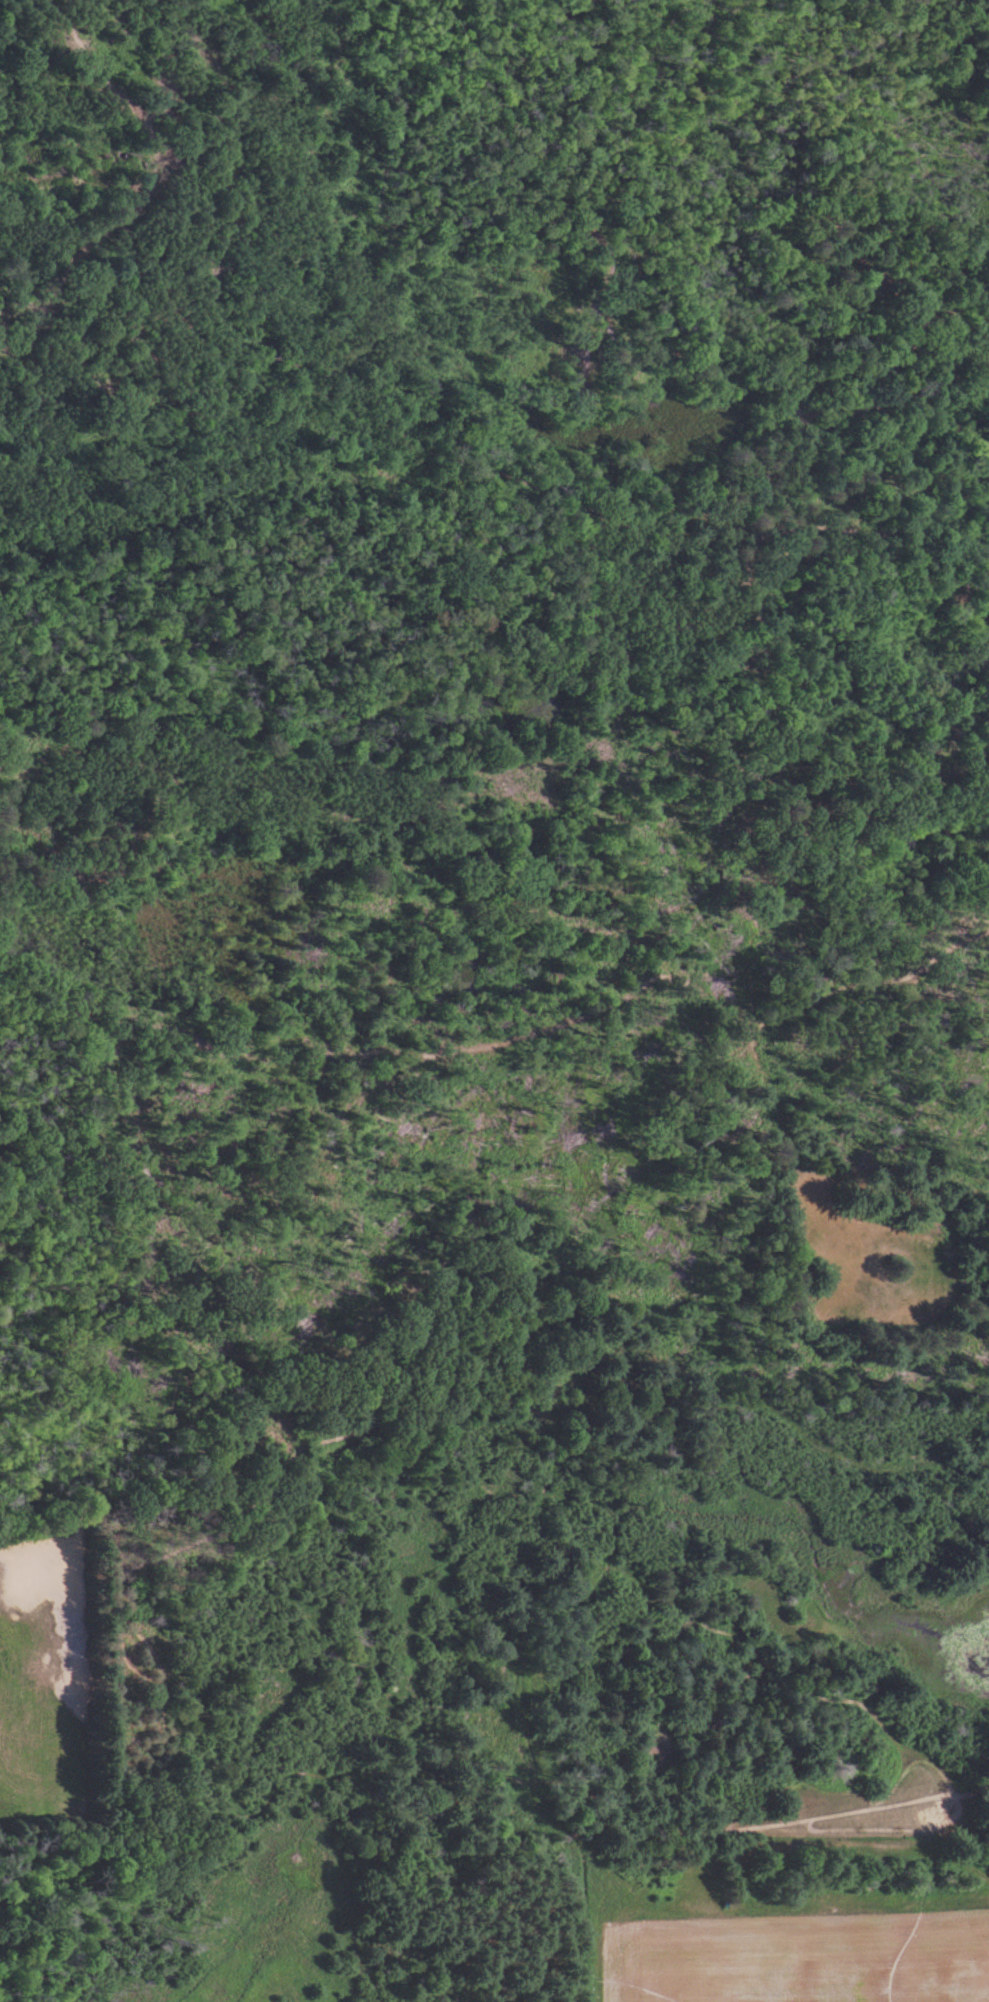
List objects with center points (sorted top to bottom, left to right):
road: (146, 186)

